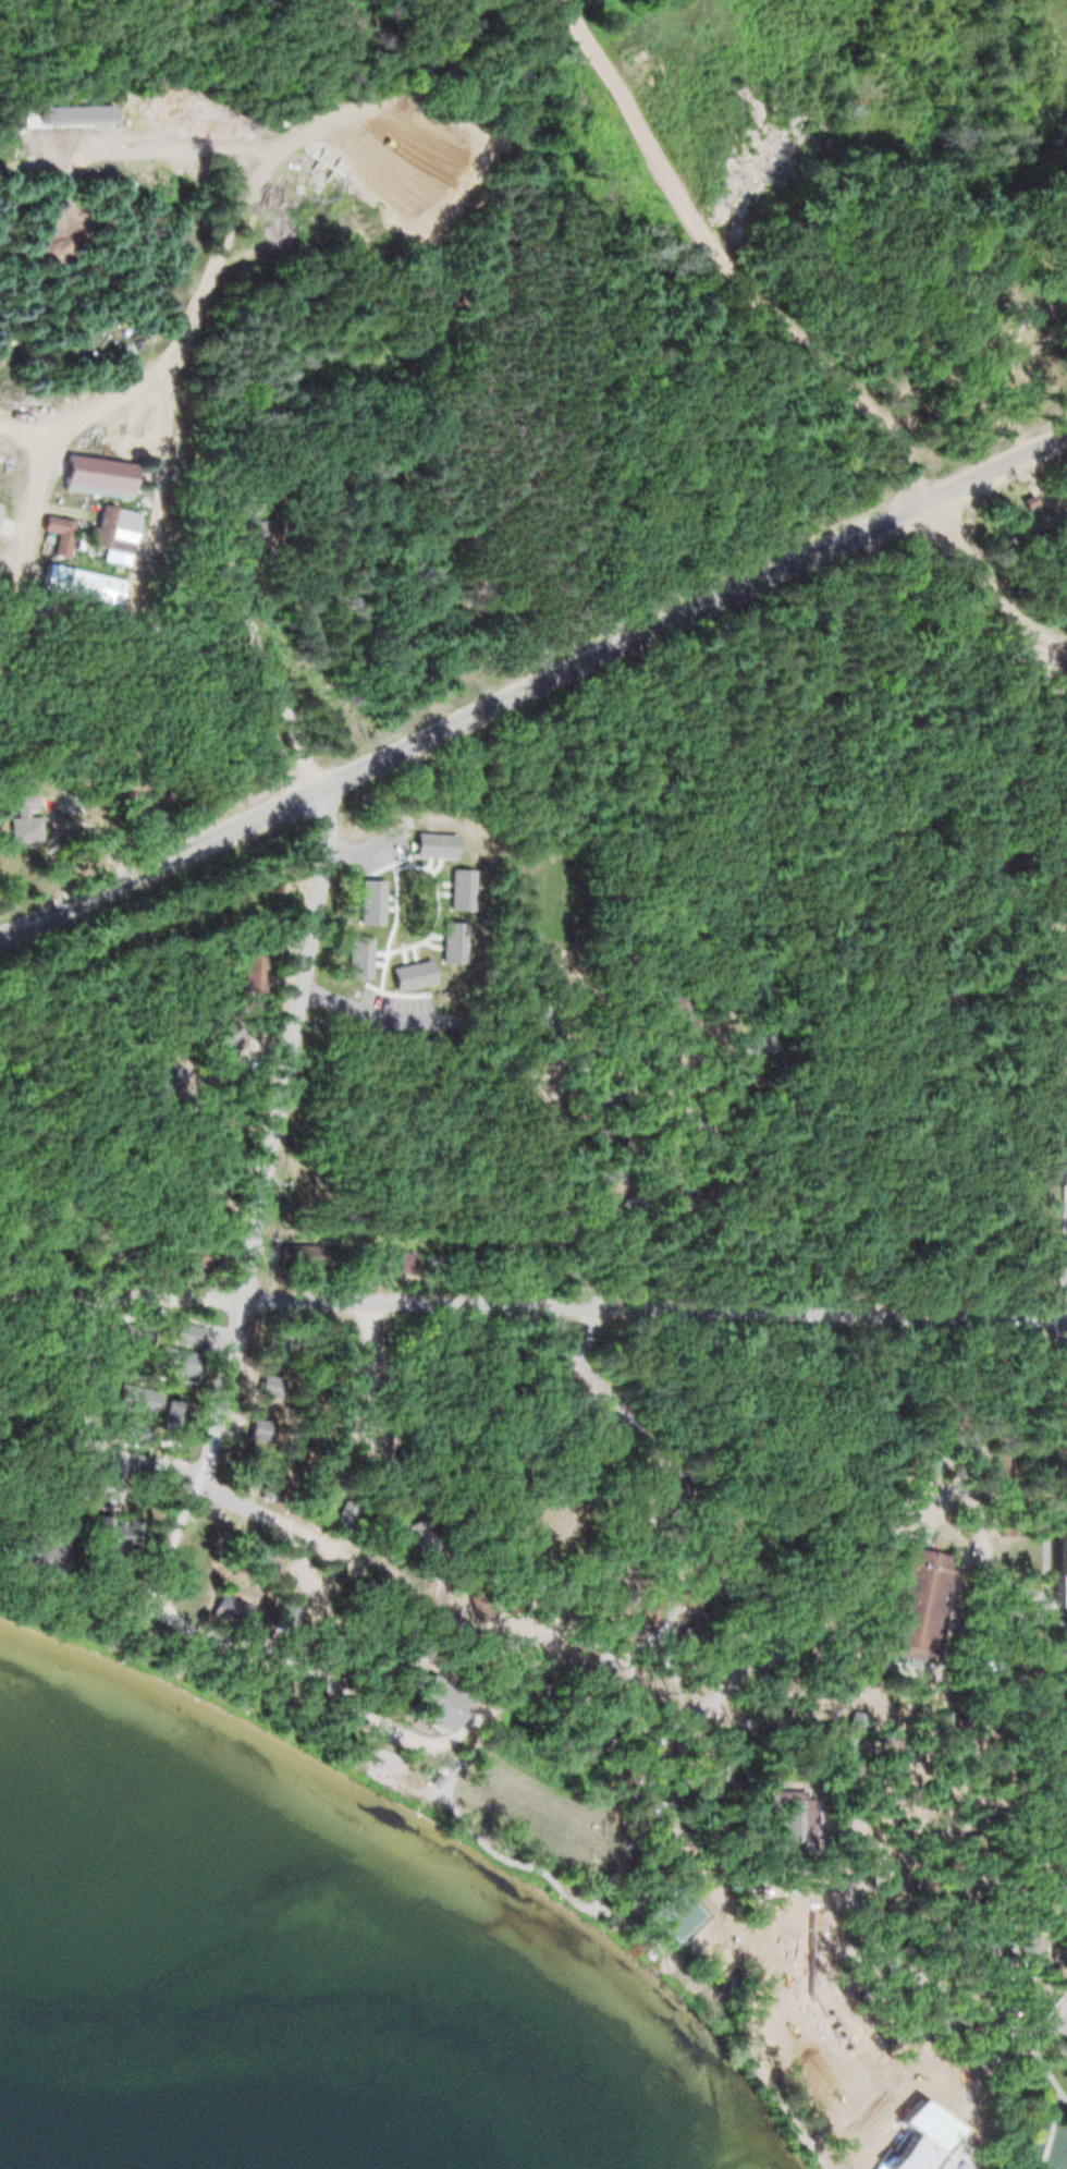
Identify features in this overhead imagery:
road: (711, 240)
road: (207, 279)
building: (981, 300)
road: (928, 367)
building: (1032, 368)
building: (93, 471)
building: (51, 531)
building: (111, 531)
building: (97, 589)
road: (983, 589)
road: (532, 685)
building: (262, 746)
building: (19, 804)
building: (246, 972)
building: (216, 1038)
road: (916, 1049)
building: (1066, 1053)
building: (161, 1083)
building: (1054, 1160)
road: (255, 1190)
building: (373, 1260)
building: (403, 1263)
road: (532, 1304)
building: (333, 1340)
building: (272, 1341)
building: (334, 1366)
building: (268, 1387)
building: (401, 1398)
building: (118, 1402)
building: (330, 1451)
road: (918, 1494)
building: (311, 1503)
building: (341, 1514)
building: (114, 1533)
road: (686, 1543)
building: (30, 1557)
building: (253, 1558)
building: (1062, 1564)
building: (913, 1603)
building: (618, 1606)
building: (649, 1610)
building: (225, 1611)
road: (1011, 1613)
building: (281, 1616)
road: (598, 1640)
building: (428, 1706)
building: (1032, 1806)
building: (781, 1823)
building: (1007, 1826)
building: (976, 1848)
building: (951, 1869)
road: (707, 1879)
building: (925, 1890)
park: (685, 1912)
park: (718, 1943)
park: (734, 1967)
road: (1008, 2021)
road: (1051, 2038)
road: (1044, 2062)
building: (809, 2089)
building: (917, 2100)
road: (1059, 2111)
building: (936, 2166)

